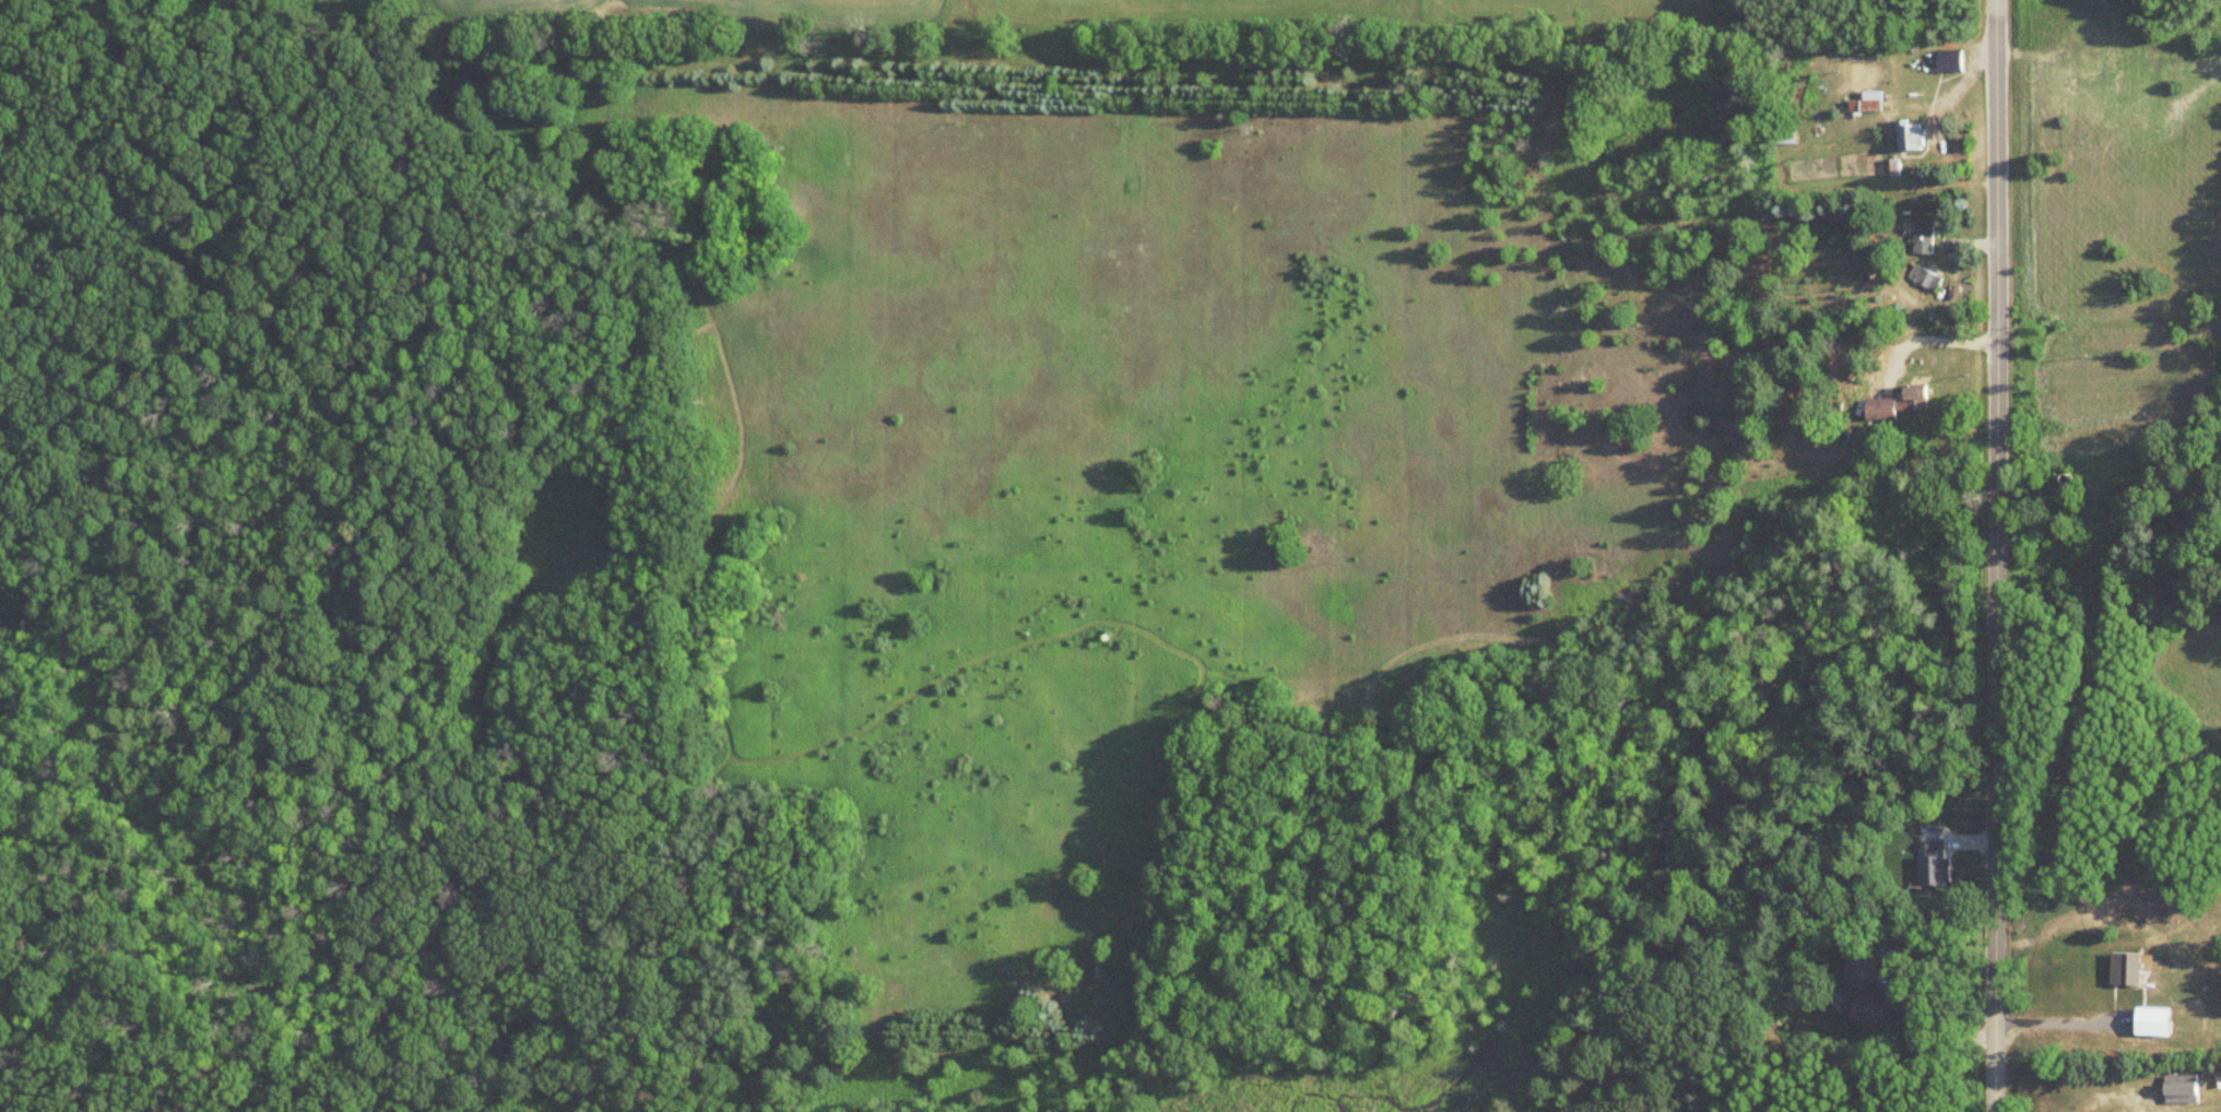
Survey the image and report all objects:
building: (1949, 60)
building: (1869, 103)
building: (1911, 137)
building: (1923, 238)
building: (1930, 283)
building: (1900, 403)
road: (1992, 556)
building: (1934, 861)
building: (1863, 967)
building: (1874, 1007)
building: (2174, 1089)

